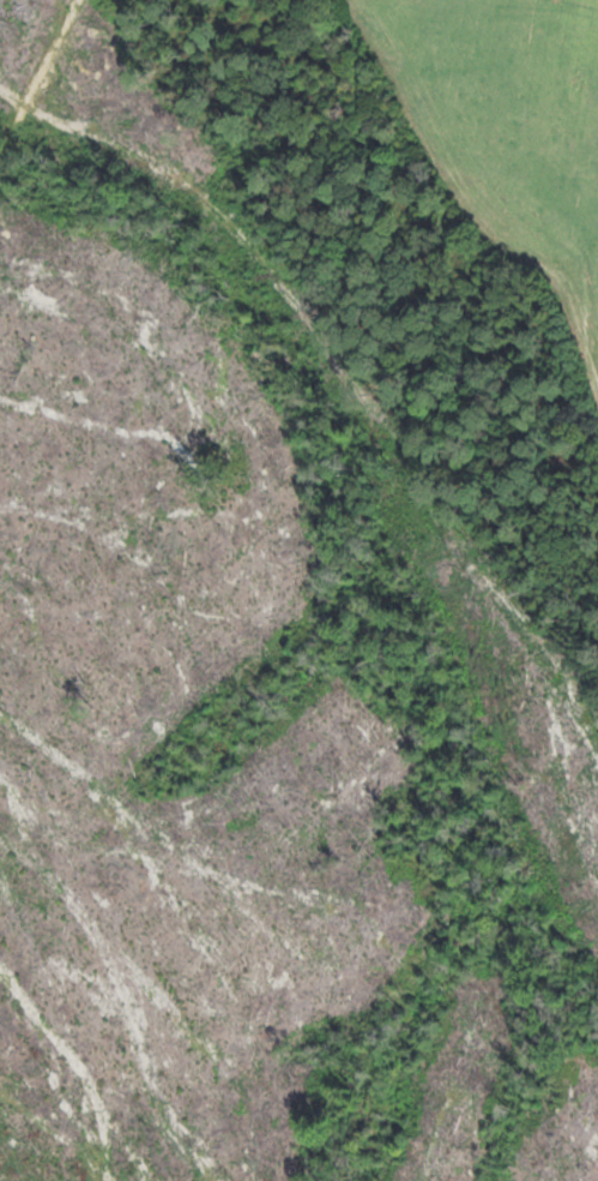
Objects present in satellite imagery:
road: (358, 6)
road: (22, 40)

